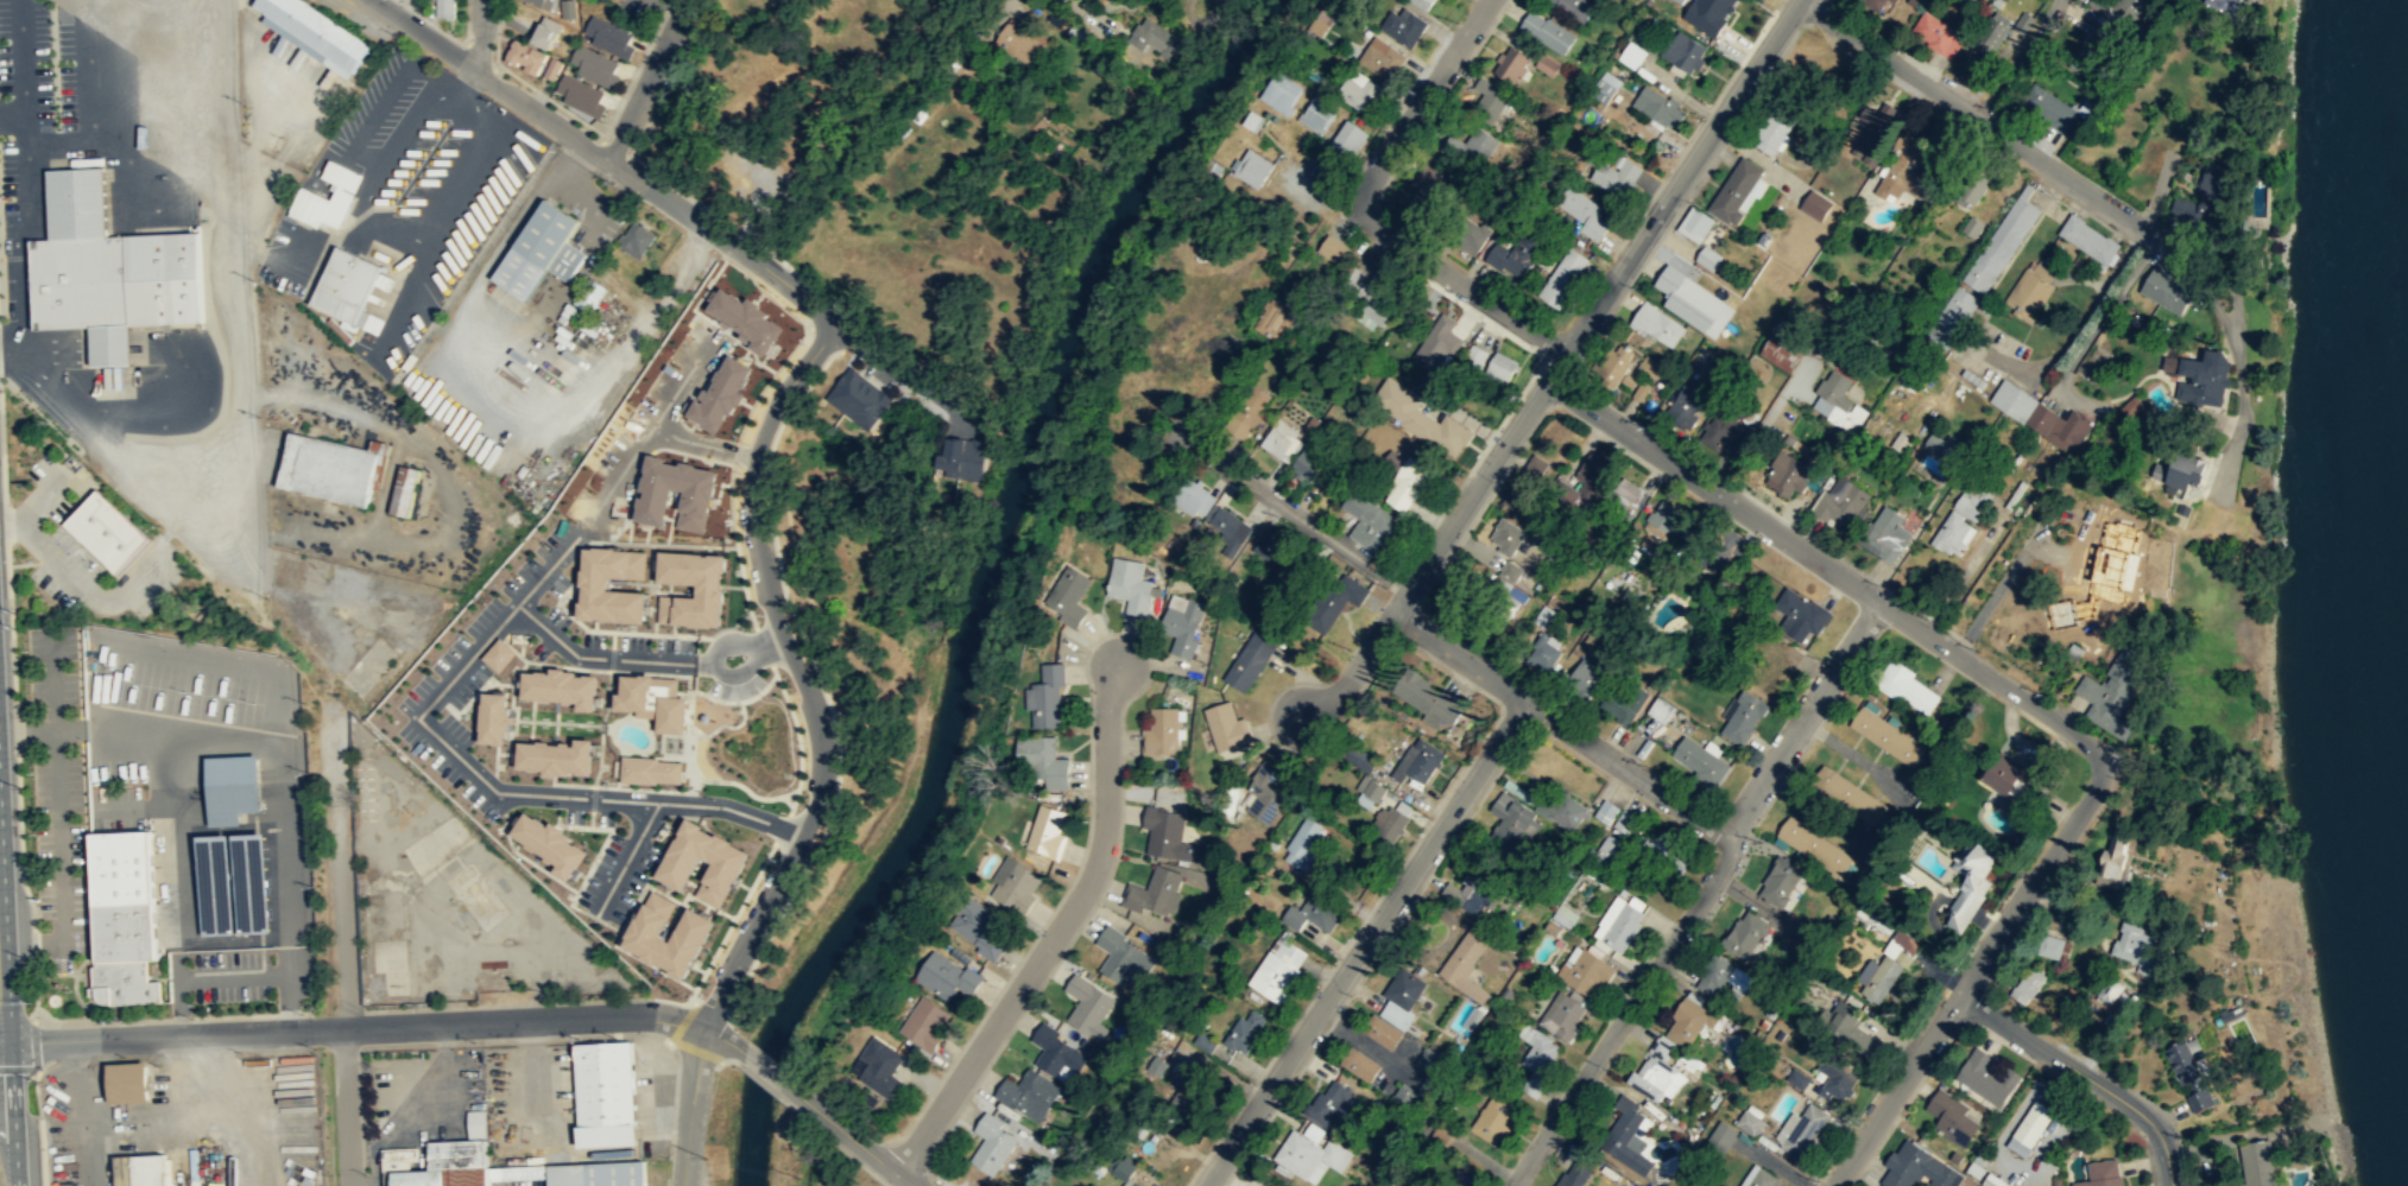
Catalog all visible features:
building: (539, 2)
building: (1422, 4)
building: (1873, 5)
building: (1572, 6)
building: (2223, 6)
building: (568, 8)
building: (444, 9)
building: (2123, 11)
building: (1707, 13)
street lamp: (1772, 13)
building: (2024, 21)
building: (1402, 25)
building: (546, 31)
building: (1544, 31)
building: (315, 33)
street lamp: (397, 33)
building: (1936, 33)
building: (1991, 33)
road: (480, 36)
building: (609, 36)
building: (1151, 39)
building: (1018, 40)
building: (1683, 50)
building: (2092, 50)
building: (1632, 53)
building: (526, 55)
building: (1380, 57)
road: (2015, 58)
building: (1546, 63)
building: (595, 65)
building: (1510, 65)
road: (20, 66)
building: (554, 68)
road: (109, 69)
road: (647, 80)
building: (1604, 87)
building: (1358, 90)
building: (1281, 93)
building: (581, 95)
building: (1490, 97)
street lamp: (492, 100)
road: (1417, 101)
road: (381, 106)
building: (1658, 106)
building: (2049, 108)
building: (1316, 113)
road: (410, 123)
road: (1989, 125)
road: (25, 126)
building: (1872, 128)
building: (1772, 133)
building: (1348, 137)
road: (582, 142)
building: (1470, 150)
road: (29, 159)
street lamp: (1294, 159)
building: (1251, 167)
building: (1903, 170)
building: (1617, 175)
street lamp: (612, 182)
building: (1971, 188)
road: (1673, 189)
building: (1738, 190)
road: (453, 192)
building: (1424, 192)
building: (2201, 201)
building: (1814, 205)
building: (308, 207)
building: (1582, 211)
building: (1694, 223)
building: (1970, 226)
street lamp: (1353, 232)
building: (1468, 234)
road: (326, 236)
building: (634, 240)
building: (2088, 240)
building: (2002, 241)
building: (1331, 248)
building: (539, 249)
building: (1513, 255)
building: (1707, 256)
building: (108, 264)
building: (1562, 277)
road: (1456, 281)
building: (346, 285)
building: (2166, 291)
building: (2027, 294)
road: (398, 296)
building: (583, 299)
building: (1370, 300)
street lamp: (1456, 302)
building: (1692, 302)
building: (1954, 311)
building: (1270, 319)
building: (1656, 324)
road: (2098, 329)
building: (1437, 338)
road: (17, 351)
building: (1780, 353)
road: (5, 354)
building: (1474, 355)
building: (1500, 367)
building: (1622, 373)
building: (2206, 374)
road: (189, 391)
building: (857, 397)
building: (1687, 402)
building: (1838, 402)
building: (2129, 405)
building: (1249, 406)
river: (2406, 412)
building: (2040, 416)
building: (1418, 417)
building: (1723, 432)
building: (1281, 440)
building: (1941, 445)
building: (960, 457)
building: (1306, 467)
building: (328, 468)
building: (2187, 470)
building: (1788, 473)
building: (1407, 480)
building: (1581, 483)
building: (406, 494)
building: (1625, 495)
road: (42, 501)
building: (1840, 502)
building: (1202, 506)
road: (1289, 510)
building: (1663, 518)
building: (1963, 518)
building: (1369, 520)
building: (107, 529)
building: (1885, 533)
building: (1508, 540)
building: (1725, 550)
building: (1271, 551)
road: (1429, 556)
building: (2122, 558)
road: (1829, 570)
road: (80, 578)
building: (1761, 578)
building: (598, 582)
building: (1130, 586)
building: (714, 588)
building: (1067, 595)
building: (1335, 601)
building: (1503, 603)
building: (1799, 614)
building: (1182, 623)
building: (1543, 652)
building: (499, 653)
building: (1249, 662)
road: (227, 664)
building: (1585, 676)
building: (2119, 685)
building: (565, 686)
building: (1908, 687)
building: (1044, 697)
building: (658, 699)
building: (1424, 700)
building: (1624, 700)
building: (498, 716)
building: (1744, 717)
road: (1563, 725)
building: (1225, 728)
building: (1161, 734)
road: (232, 736)
building: (1886, 736)
building: (561, 755)
building: (1355, 757)
building: (1042, 760)
building: (1700, 761)
building: (1417, 765)
road: (165, 767)
building: (652, 769)
building: (2008, 776)
building: (233, 787)
building: (364, 788)
building: (1365, 792)
building: (1265, 794)
building: (1847, 794)
building: (1561, 808)
building: (1605, 811)
building: (1512, 819)
building: (1390, 820)
building: (1622, 820)
building: (1045, 831)
building: (1168, 835)
road: (57, 836)
building: (1302, 842)
building: (555, 843)
building: (1814, 846)
building: (1607, 849)
building: (1667, 849)
road: (170, 855)
building: (2115, 860)
building: (726, 868)
road: (339, 877)
building: (236, 881)
building: (1775, 882)
building: (1968, 883)
building: (1015, 886)
building: (1155, 892)
building: (1472, 892)
road: (1700, 896)
building: (1310, 915)
building: (122, 917)
building: (1563, 917)
building: (1618, 922)
building: (697, 926)
building: (977, 928)
road: (1058, 930)
building: (1743, 933)
road: (229, 938)
road: (1365, 943)
building: (2136, 943)
building: (2049, 945)
building: (1123, 956)
building: (1466, 963)
building: (1278, 966)
building: (1584, 971)
building: (1882, 972)
road: (232, 976)
building: (1714, 976)
building: (944, 977)
road: (1968, 978)
building: (493, 982)
building: (2027, 984)
building: (2106, 989)
road: (8, 1006)
building: (1087, 1007)
building: (1393, 1009)
building: (1561, 1015)
road: (523, 1020)
building: (924, 1025)
building: (1850, 1027)
building: (1244, 1033)
road: (723, 1038)
road: (172, 1039)
building: (1201, 1041)
building: (1673, 1046)
building: (1538, 1049)
building: (1056, 1052)
building: (1427, 1059)
building: (1359, 1064)
building: (1152, 1065)
road: (763, 1066)
building: (876, 1068)
road: (2084, 1076)
building: (2192, 1076)
building: (1985, 1078)
building: (1797, 1079)
building: (1835, 1080)
building: (127, 1083)
building: (1403, 1092)
building: (606, 1093)
building: (1028, 1095)
building: (1192, 1099)
building: (1328, 1103)
road: (348, 1106)
road: (690, 1106)
building: (1951, 1116)
building: (1494, 1118)
building: (1151, 1121)
building: (1749, 1122)
building: (475, 1123)
building: (2029, 1128)
building: (1442, 1131)
building: (1806, 1131)
road: (847, 1135)
building: (1625, 1135)
building: (1720, 1135)
building: (992, 1144)
building: (1310, 1155)
road: (1484, 1159)
building: (2256, 1163)
building: (438, 1165)
building: (1916, 1168)
building: (139, 1169)
building: (1124, 1171)
building: (507, 1172)
building: (596, 1173)
building: (2102, 1174)
building: (1575, 1175)
building: (1761, 1178)
building: (1990, 1180)

